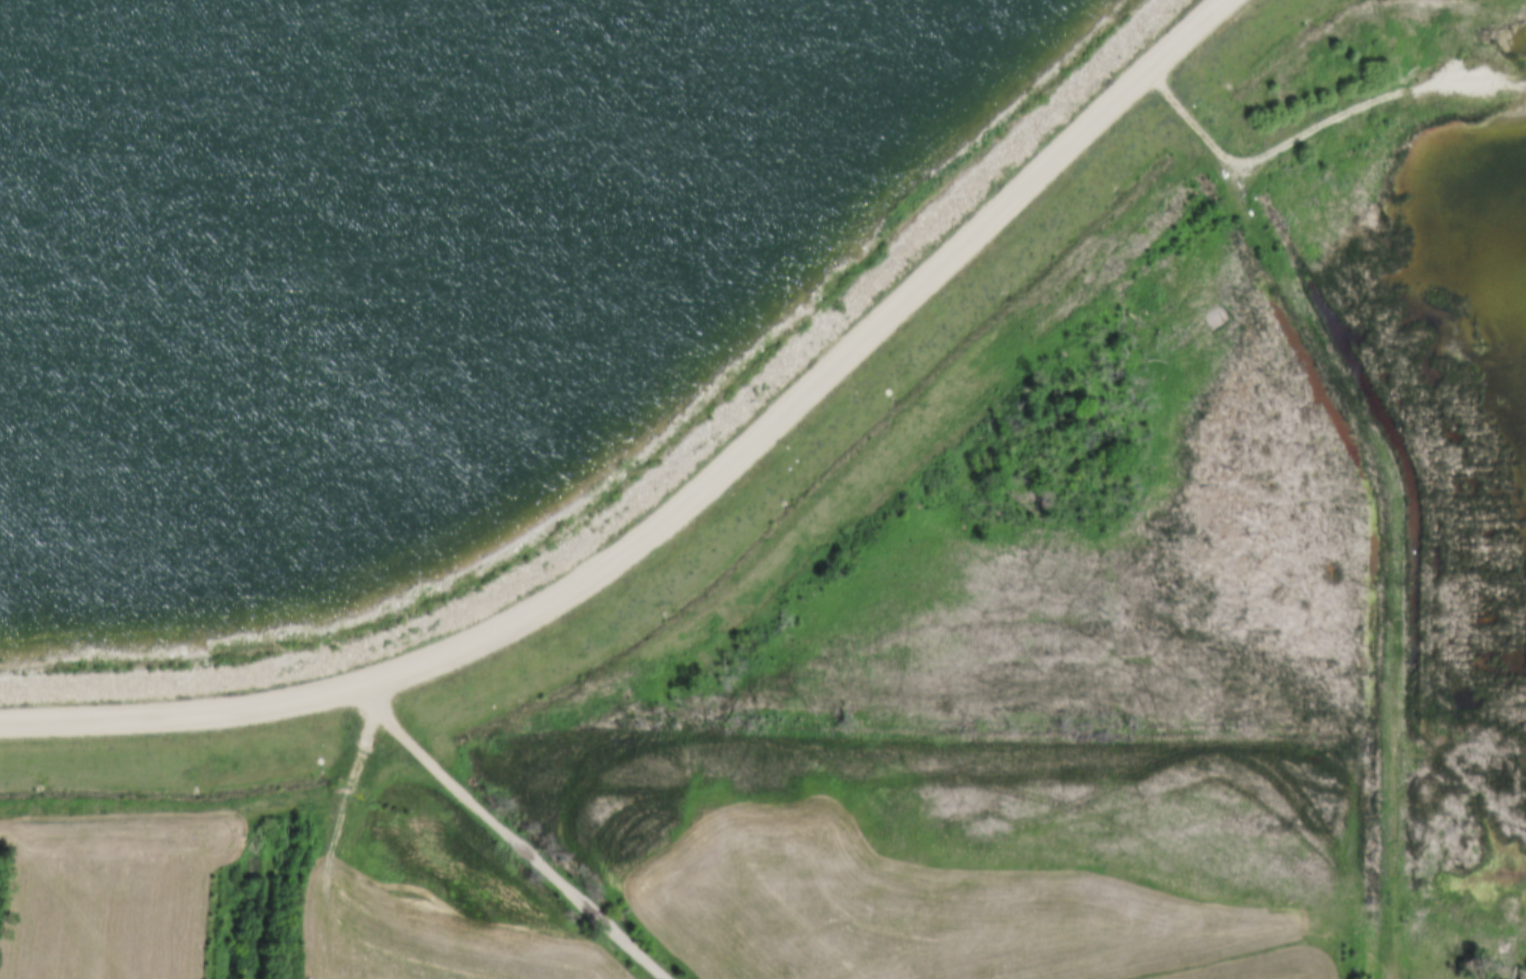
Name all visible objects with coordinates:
road: (1393, 477)
road: (665, 487)
road: (331, 820)

